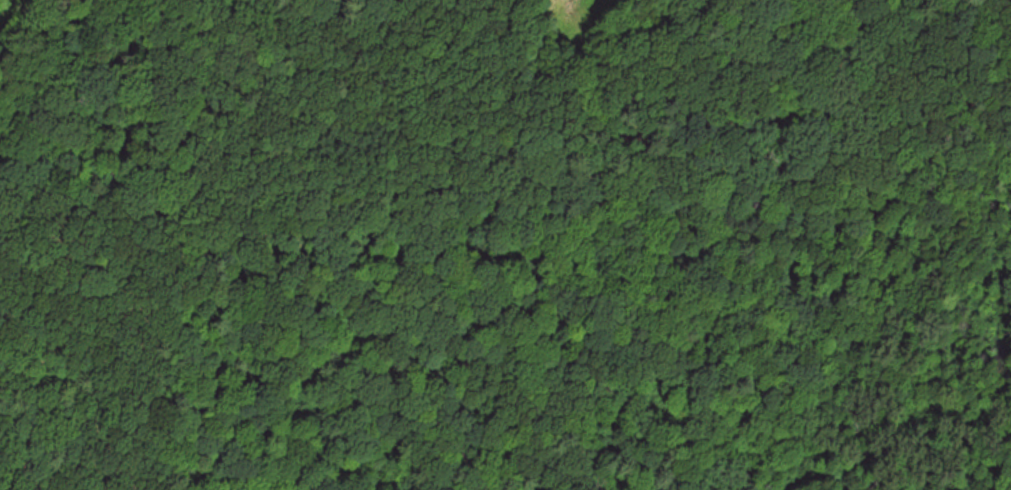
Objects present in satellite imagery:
park: (491, 106)

